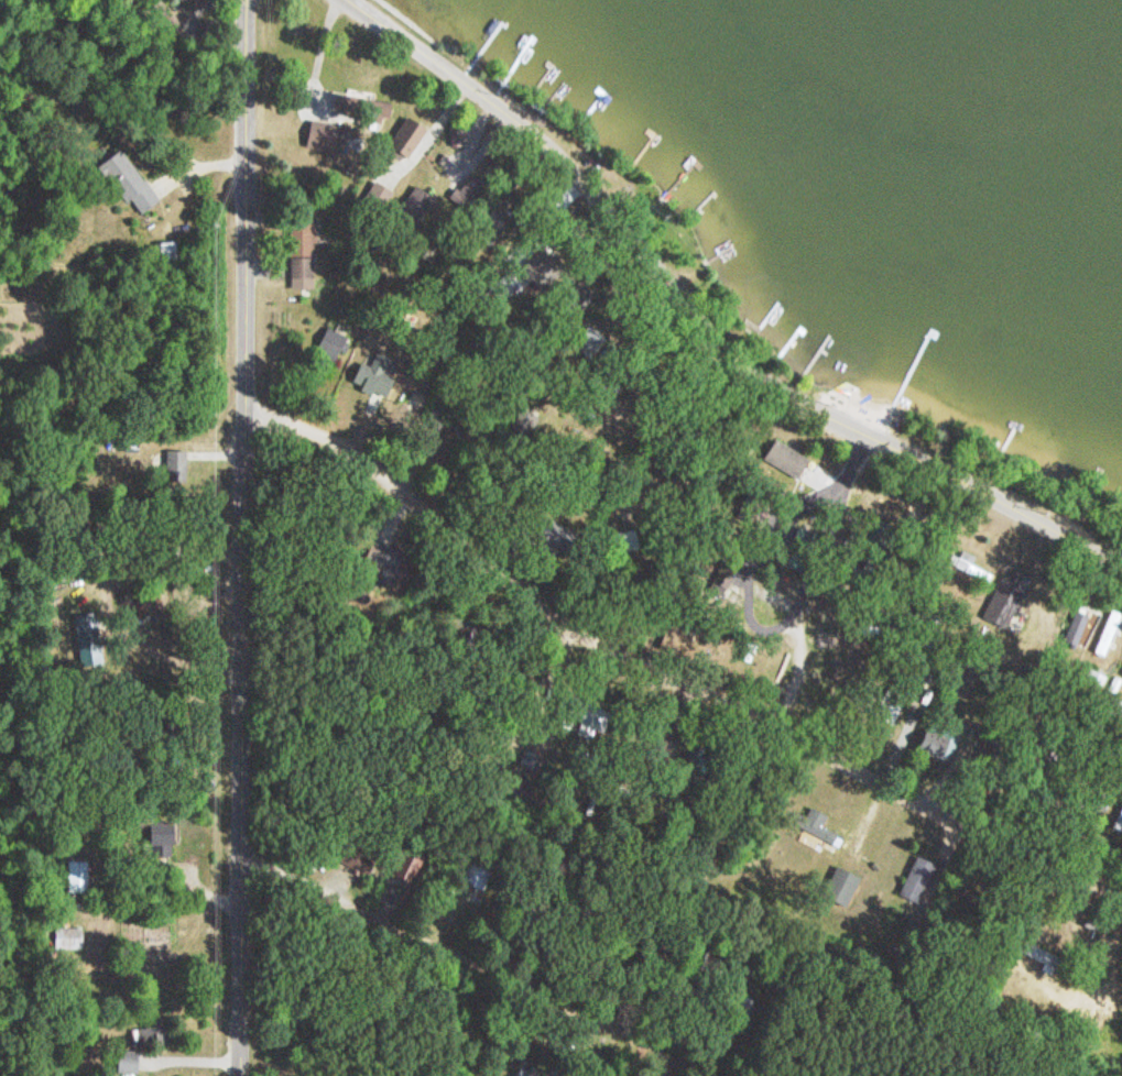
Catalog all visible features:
building: (124, 183)
building: (298, 246)
road: (710, 316)
building: (326, 343)
building: (782, 460)
road: (244, 537)
building: (1074, 630)
building: (1107, 634)
road: (675, 665)
building: (1120, 672)
building: (1118, 820)
building: (154, 834)
building: (359, 863)
building: (470, 874)
building: (76, 876)
building: (846, 878)
road: (706, 880)
building: (68, 938)
building: (1028, 951)
road: (475, 960)
building: (153, 1032)
building: (130, 1061)
building: (534, 1072)

